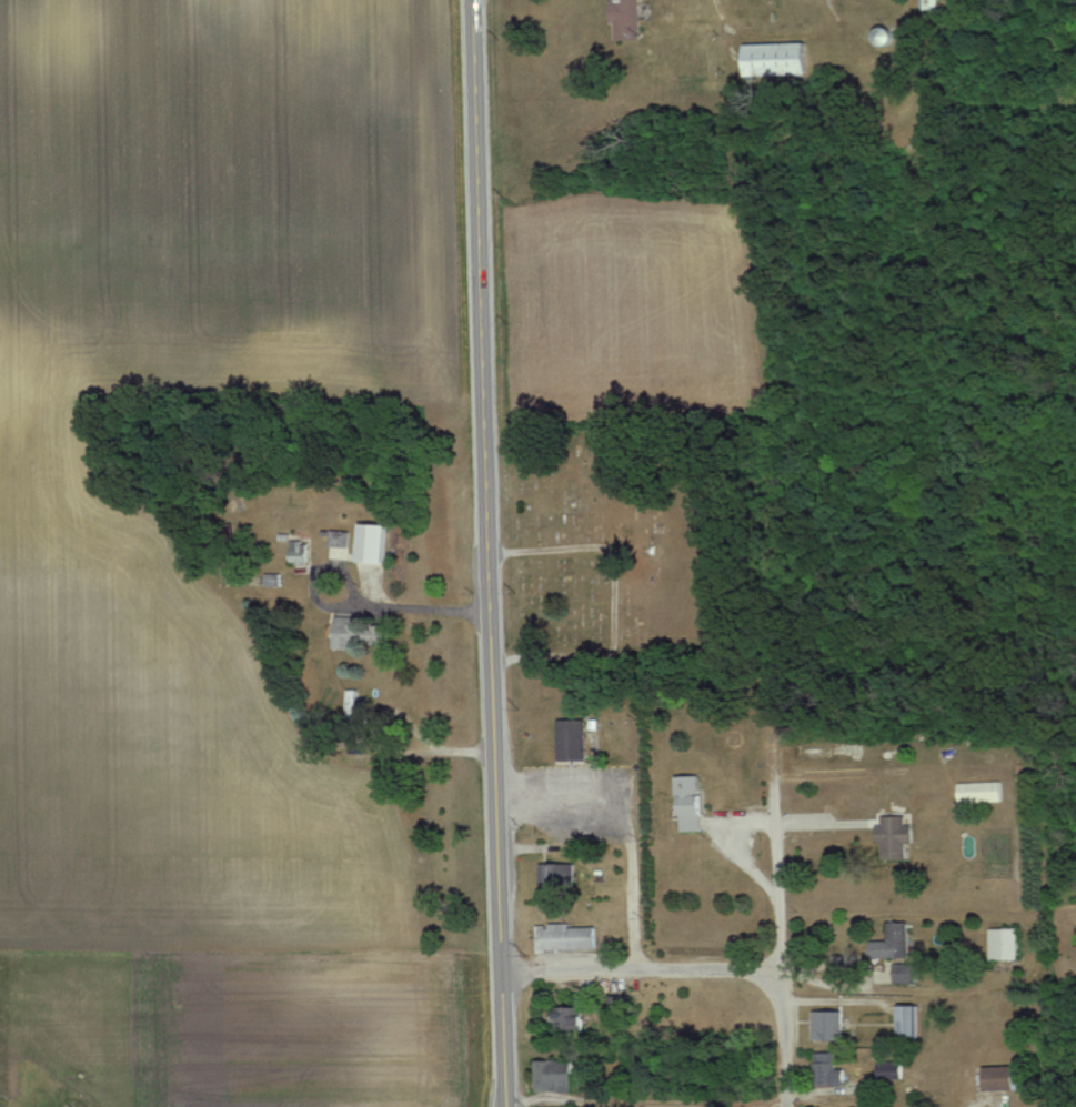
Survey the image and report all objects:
building: (927, 4)
road: (722, 17)
building: (780, 58)
building: (378, 543)
park: (617, 549)
road: (486, 553)
road: (433, 608)
building: (573, 741)
road: (464, 752)
building: (982, 792)
building: (693, 795)
road: (625, 823)
building: (897, 837)
building: (566, 875)
building: (570, 937)
building: (898, 940)
road: (782, 942)
building: (1006, 944)
road: (643, 970)
building: (573, 1019)
building: (912, 1020)
building: (831, 1025)
building: (829, 1070)
building: (892, 1070)
building: (555, 1076)

